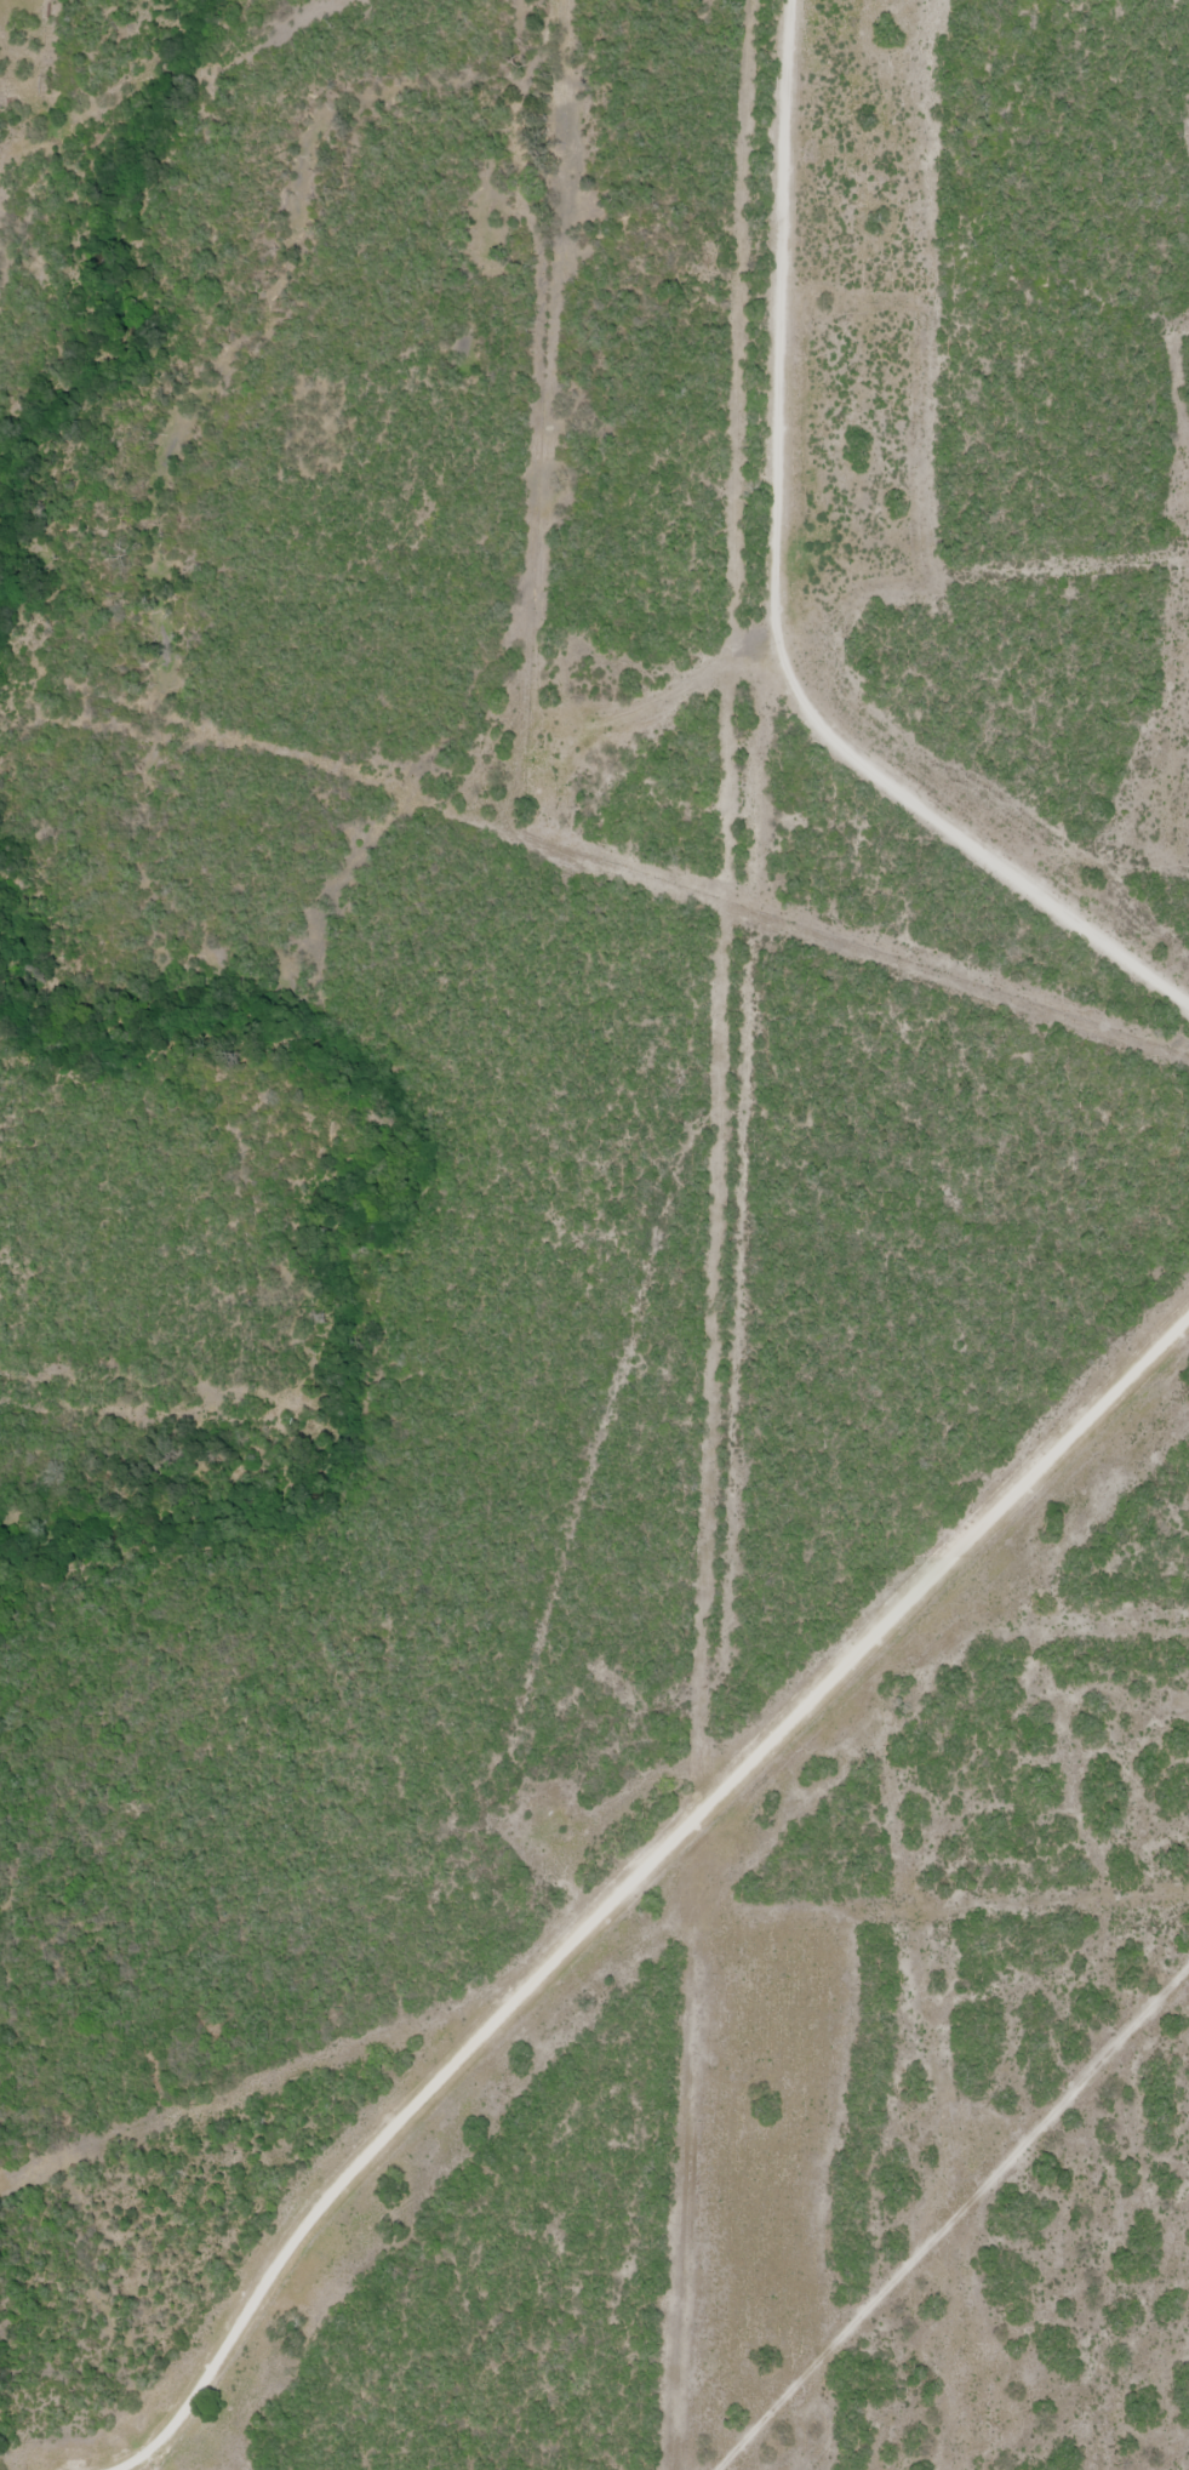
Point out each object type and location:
road: (135, 1364)
road: (633, 1877)

